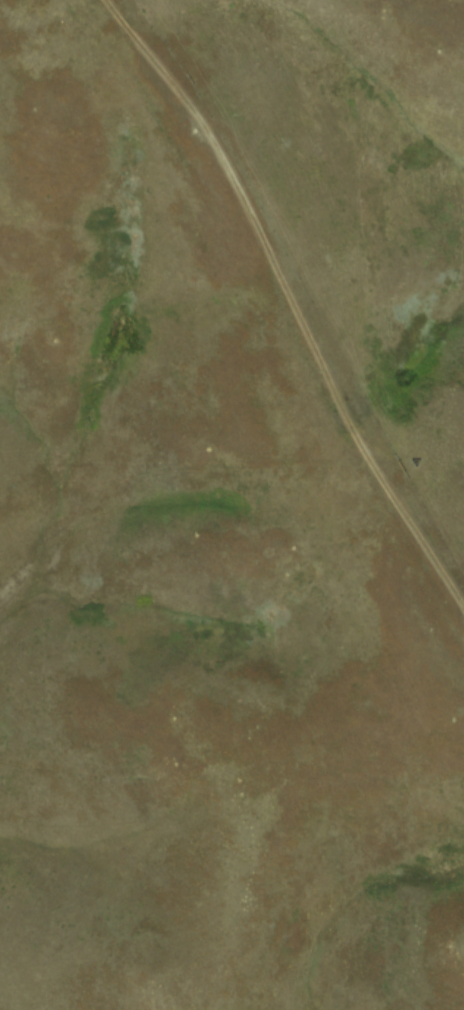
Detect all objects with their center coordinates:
road: (287, 265)
road: (448, 558)
road: (233, 755)

